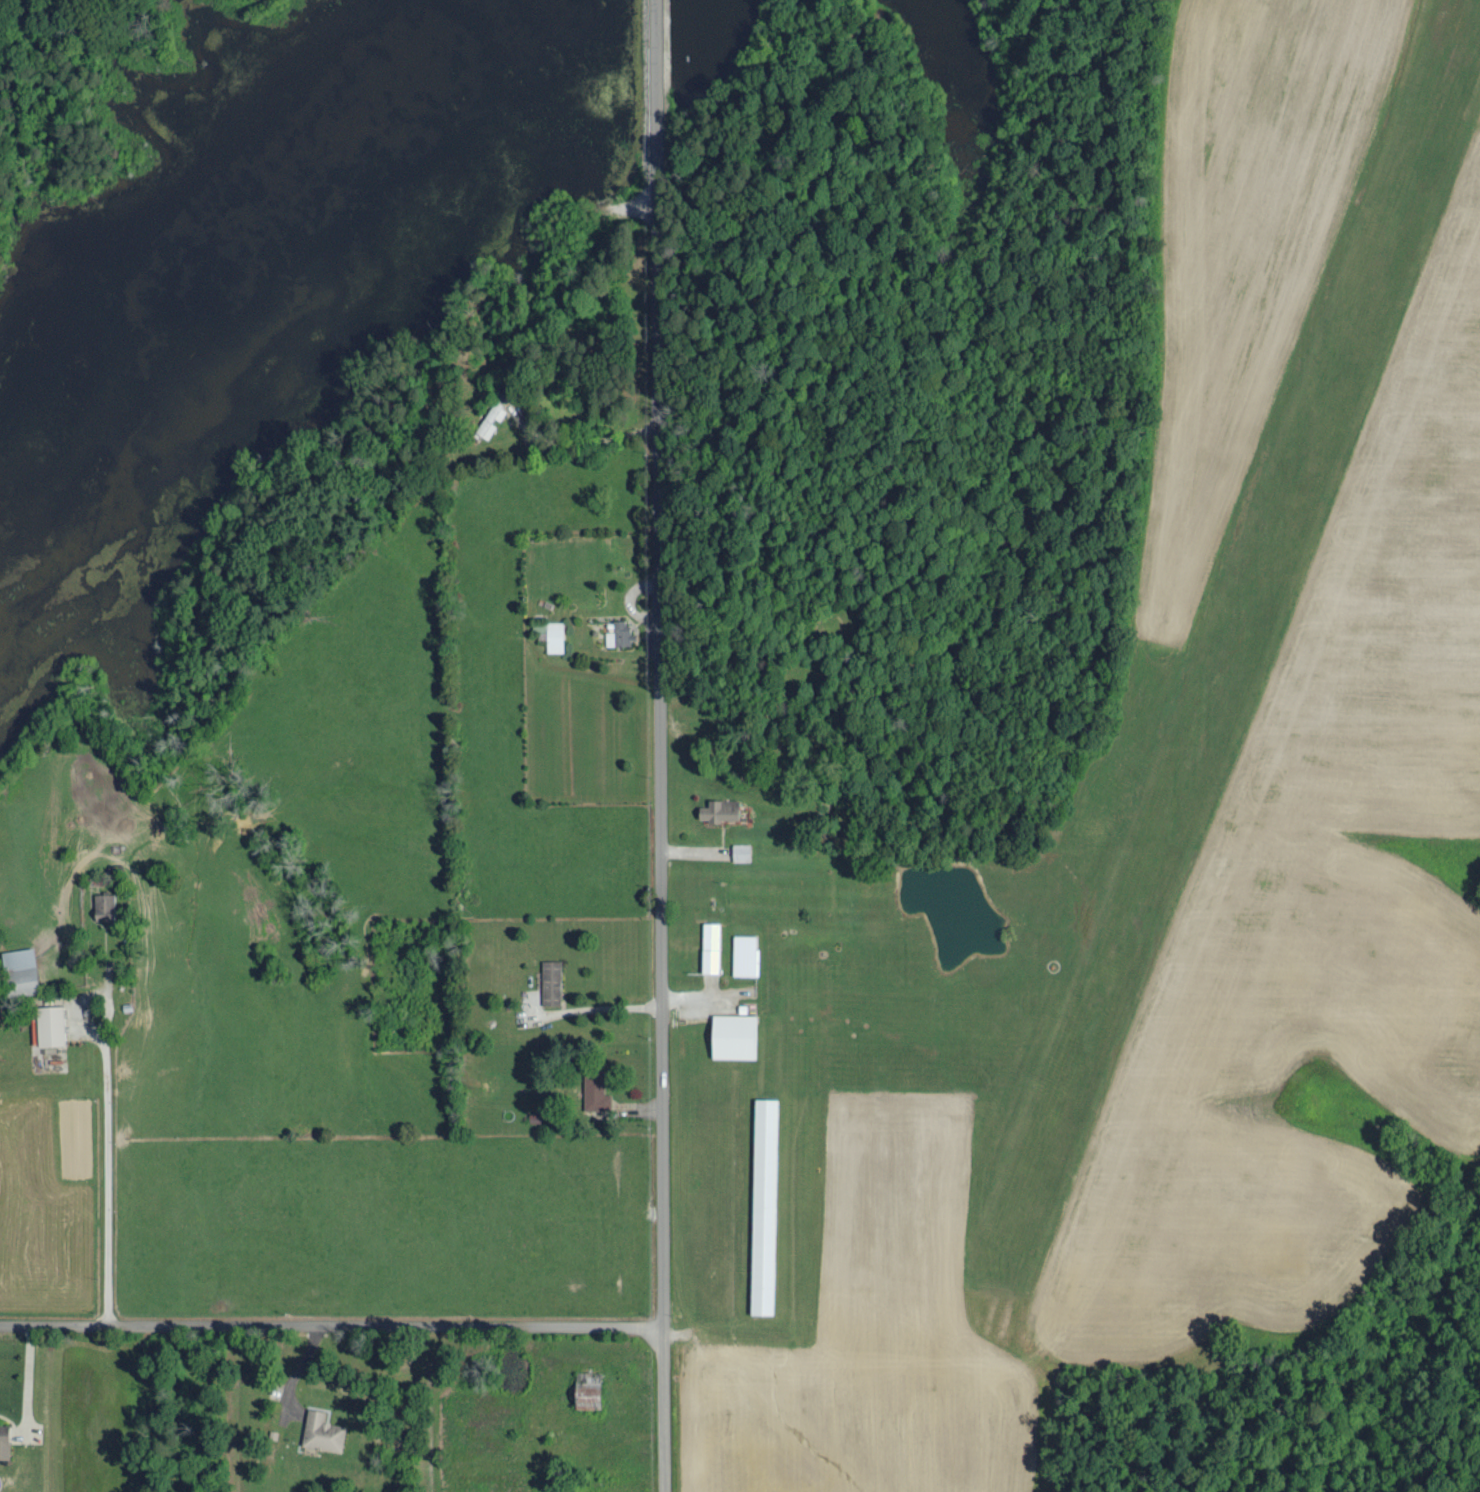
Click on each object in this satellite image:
building: (491, 418)
building: (619, 633)
building: (554, 635)
airport runway: (1235, 636)
road: (660, 746)
building: (720, 809)
road: (696, 850)
building: (741, 850)
building: (105, 905)
building: (711, 946)
building: (744, 953)
building: (21, 970)
building: (551, 981)
building: (50, 1024)
building: (734, 1034)
building: (595, 1092)
road: (107, 1184)
airport hangar: (764, 1205)
building: (764, 1205)
road: (331, 1323)
building: (588, 1388)
building: (322, 1429)
building: (4, 1436)

